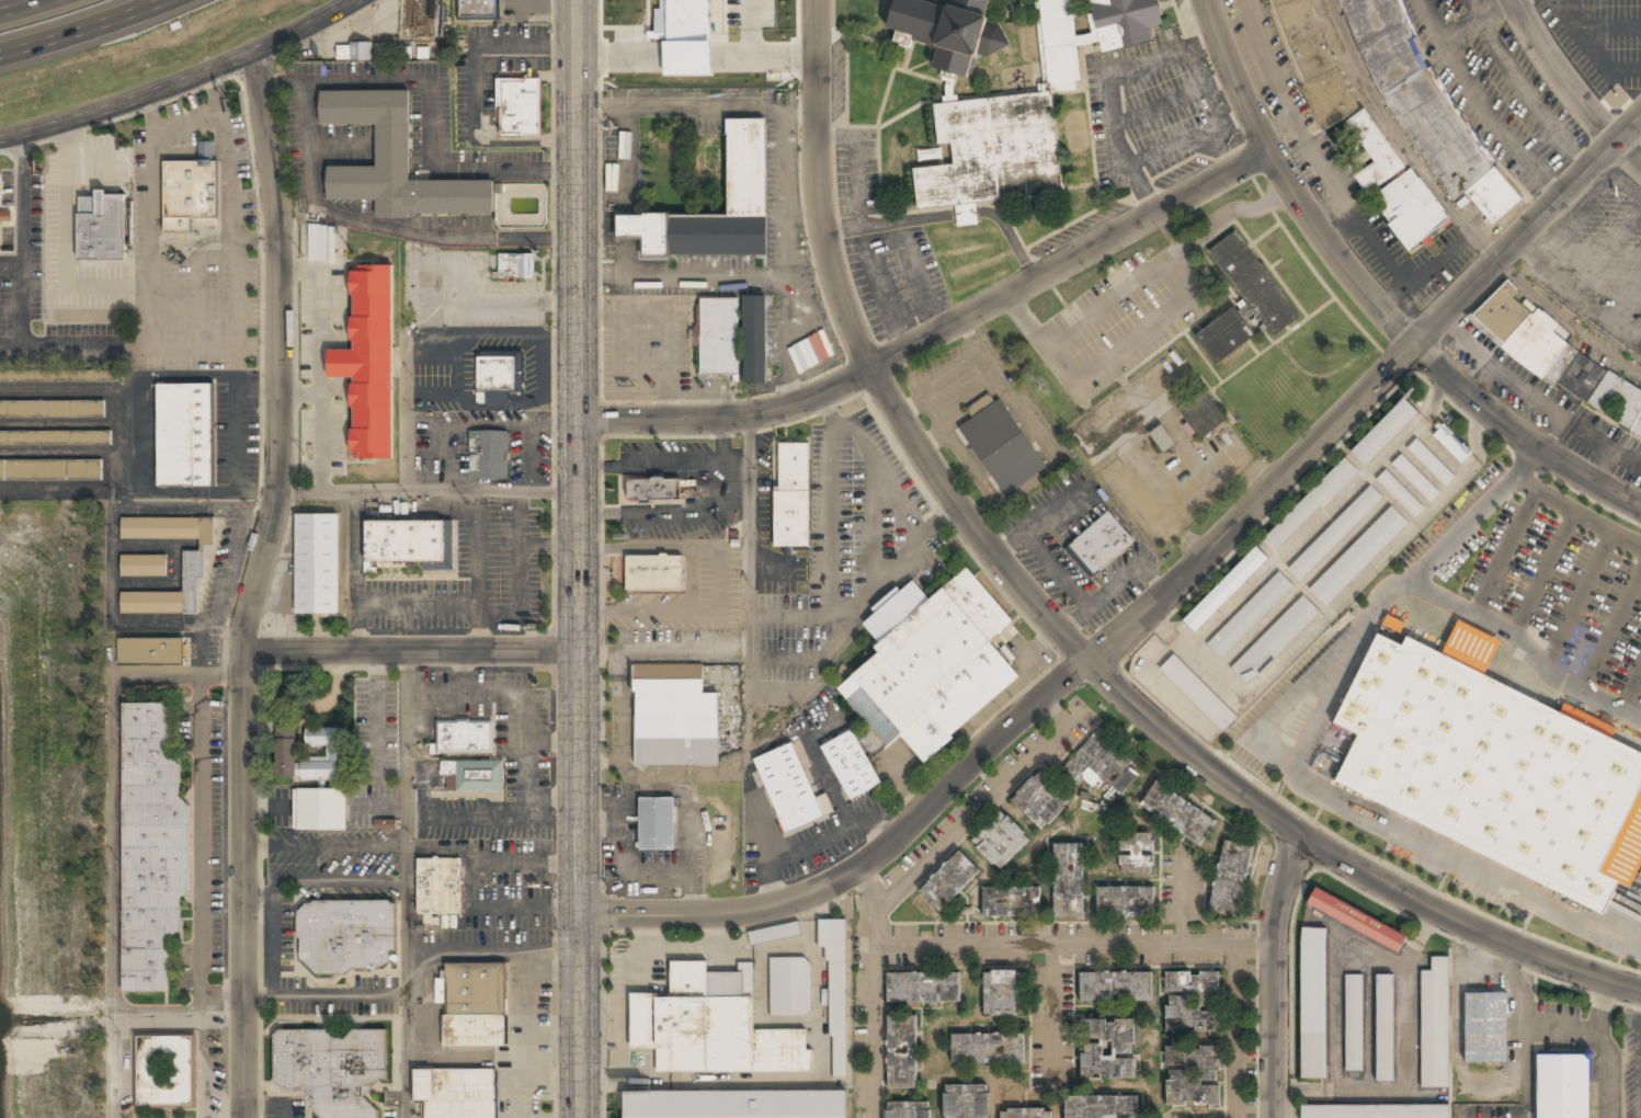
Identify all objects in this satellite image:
building: (478, 9)
road: (35, 11)
road: (95, 31)
building: (948, 31)
building: (354, 52)
building: (1311, 60)
road: (186, 85)
road: (1570, 85)
building: (1415, 92)
building: (518, 107)
building: (1024, 111)
road: (628, 135)
building: (1372, 152)
building: (394, 161)
building: (745, 182)
building: (1493, 194)
building: (187, 195)
building: (1410, 210)
building: (101, 227)
road: (628, 227)
building: (515, 266)
road: (618, 272)
road: (1372, 298)
building: (1243, 300)
road: (492, 303)
road: (938, 332)
road: (490, 334)
building: (733, 338)
building: (1550, 353)
road: (322, 358)
building: (366, 362)
road: (339, 364)
road: (542, 366)
road: (456, 367)
building: (83, 375)
building: (497, 376)
road: (303, 395)
road: (491, 398)
building: (29, 409)
road: (404, 413)
building: (1201, 414)
road: (515, 424)
building: (989, 429)
building: (1383, 433)
building: (184, 435)
building: (55, 437)
building: (1162, 440)
road: (721, 442)
building: (1452, 444)
road: (429, 454)
building: (488, 456)
road: (531, 457)
road: (452, 458)
building: (1431, 463)
road: (880, 469)
building: (50, 470)
building: (1415, 478)
road: (428, 490)
building: (654, 490)
road: (721, 492)
building: (1400, 493)
building: (791, 495)
road: (831, 502)
building: (1310, 505)
road: (1580, 510)
road: (875, 524)
building: (1334, 534)
building: (408, 544)
road: (549, 546)
building: (1098, 546)
road: (1514, 552)
building: (1358, 556)
road: (580, 558)
building: (316, 564)
building: (193, 566)
building: (143, 567)
road: (356, 570)
road: (476, 570)
building: (654, 573)
road: (1551, 573)
road: (520, 574)
road: (260, 579)
road: (719, 579)
building: (1224, 590)
parking lot: (1569, 596)
road: (1152, 598)
road: (1451, 604)
road: (1587, 604)
road: (417, 605)
road: (793, 614)
road: (836, 614)
road: (843, 614)
building: (1249, 615)
road: (1057, 627)
road: (1616, 639)
building: (1275, 640)
building: (1470, 644)
road: (410, 650)
building: (150, 653)
building: (930, 664)
road: (464, 672)
building: (1197, 693)
road: (1634, 703)
road: (377, 714)
building: (673, 717)
building: (463, 738)
road: (554, 741)
building: (285, 754)
building: (1488, 764)
building: (851, 765)
building: (1102, 765)
building: (475, 775)
road: (527, 784)
building: (790, 790)
road: (466, 794)
road: (554, 797)
building: (1039, 801)
building: (319, 810)
building: (1178, 813)
building: (385, 824)
building: (657, 824)
building: (1000, 842)
road: (324, 847)
road: (441, 847)
building: (150, 848)
building: (1136, 854)
building: (1230, 879)
building: (1068, 880)
road: (335, 881)
building: (949, 882)
road: (407, 883)
road: (468, 885)
building: (438, 887)
building: (1125, 902)
building: (1010, 903)
traffic signals: (580, 914)
building: (1356, 920)
road: (273, 931)
building: (774, 934)
building: (347, 936)
road: (475, 951)
road: (1275, 973)
building: (789, 988)
building: (923, 988)
building: (1115, 988)
building: (836, 993)
road: (324, 994)
building: (1002, 994)
road: (531, 1001)
building: (1192, 1001)
building: (1313, 1004)
building: (475, 1005)
building: (1353, 1023)
building: (1435, 1025)
building: (711, 1026)
building: (1384, 1028)
building: (1485, 1028)
road: (555, 1037)
building: (988, 1050)
building: (1107, 1050)
building: (901, 1053)
road: (468, 1059)
building: (332, 1069)
building: (163, 1071)
building: (1193, 1076)
road: (555, 1080)
building: (1562, 1086)
building: (456, 1093)
building: (966, 1102)
building: (734, 1105)
road: (270, 1106)
building: (1101, 1107)
building: (908, 1110)
road: (244, 1111)
building: (1375, 1111)
building: (1026, 1114)

